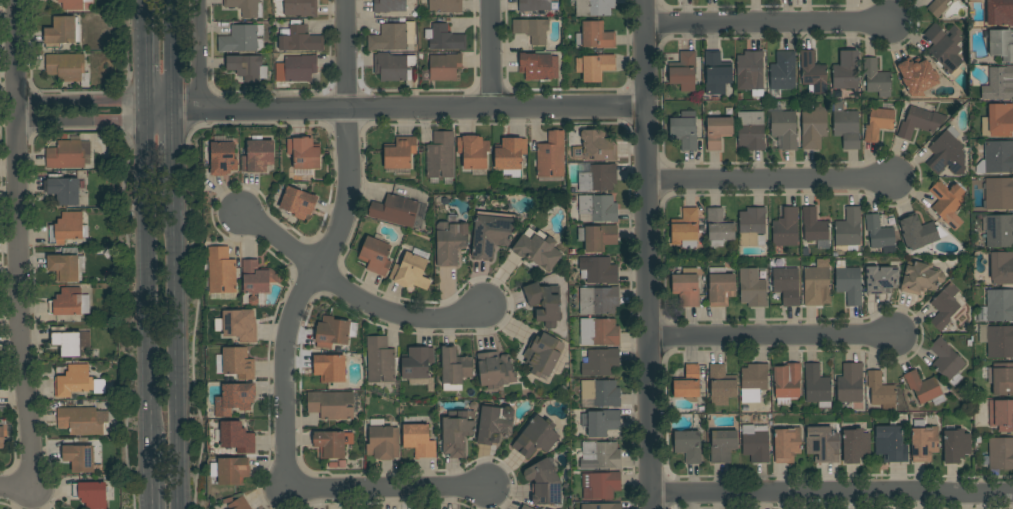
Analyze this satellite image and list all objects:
building: (277, 0)
building: (72, 4)
building: (389, 5)
building: (445, 5)
building: (533, 5)
building: (247, 7)
building: (593, 7)
building: (937, 7)
building: (300, 8)
building: (999, 12)
road: (141, 16)
road: (768, 24)
building: (532, 30)
building: (62, 31)
building: (595, 36)
building: (392, 37)
building: (444, 38)
building: (242, 39)
building: (298, 39)
building: (1001, 45)
building: (945, 48)
road: (173, 54)
road: (199, 54)
road: (490, 54)
building: (444, 66)
building: (538, 66)
building: (247, 67)
building: (393, 67)
building: (594, 67)
building: (67, 68)
building: (296, 68)
road: (142, 70)
building: (683, 71)
building: (845, 71)
building: (750, 72)
building: (717, 73)
building: (782, 73)
building: (813, 73)
building: (917, 76)
building: (876, 78)
building: (999, 84)
road: (393, 108)
road: (78, 111)
building: (920, 121)
building: (998, 121)
building: (878, 123)
building: (845, 125)
building: (814, 127)
building: (784, 128)
road: (174, 129)
building: (684, 130)
building: (750, 130)
building: (717, 132)
building: (595, 147)
building: (473, 151)
building: (303, 153)
building: (399, 153)
building: (946, 153)
building: (68, 154)
building: (551, 155)
building: (222, 156)
building: (257, 156)
building: (440, 156)
building: (509, 156)
building: (998, 156)
building: (598, 178)
road: (769, 180)
building: (63, 189)
building: (999, 194)
building: (946, 199)
building: (297, 202)
building: (597, 208)
building: (394, 210)
building: (751, 226)
building: (718, 227)
building: (67, 228)
building: (686, 228)
building: (785, 228)
building: (814, 228)
building: (848, 231)
building: (999, 231)
building: (917, 232)
building: (491, 233)
building: (879, 234)
building: (597, 237)
building: (450, 240)
road: (276, 241)
road: (17, 245)
road: (328, 247)
building: (537, 248)
road: (646, 254)
building: (375, 256)
building: (66, 267)
building: (1001, 268)
building: (221, 270)
building: (598, 270)
building: (410, 272)
building: (257, 277)
building: (920, 278)
building: (880, 279)
building: (849, 284)
building: (786, 285)
building: (815, 285)
building: (686, 287)
building: (720, 287)
building: (752, 288)
road: (146, 290)
building: (598, 300)
building: (69, 303)
building: (544, 303)
building: (944, 306)
building: (998, 306)
road: (397, 309)
building: (236, 326)
road: (176, 330)
building: (334, 332)
building: (599, 332)
road: (773, 337)
building: (999, 341)
building: (66, 342)
building: (543, 354)
building: (380, 359)
building: (416, 362)
building: (600, 362)
building: (946, 362)
building: (236, 363)
building: (455, 366)
building: (329, 367)
building: (494, 370)
building: (1002, 379)
building: (77, 382)
building: (687, 382)
building: (753, 382)
building: (786, 382)
building: (850, 384)
building: (721, 385)
building: (817, 386)
building: (922, 387)
building: (880, 391)
building: (601, 392)
building: (234, 398)
building: (330, 405)
building: (1001, 415)
building: (83, 420)
building: (600, 422)
building: (494, 424)
building: (457, 431)
building: (3, 435)
building: (236, 437)
building: (536, 437)
building: (418, 438)
building: (383, 442)
building: (755, 443)
building: (924, 443)
building: (332, 444)
building: (787, 444)
building: (822, 444)
building: (890, 444)
building: (722, 445)
building: (855, 445)
building: (956, 445)
building: (688, 446)
building: (1000, 453)
building: (600, 455)
building: (79, 458)
building: (232, 470)
building: (544, 483)
building: (600, 485)
road: (386, 488)
road: (15, 490)
road: (150, 490)
building: (91, 494)
road: (831, 496)
building: (239, 504)
building: (601, 506)
building: (525, 507)

